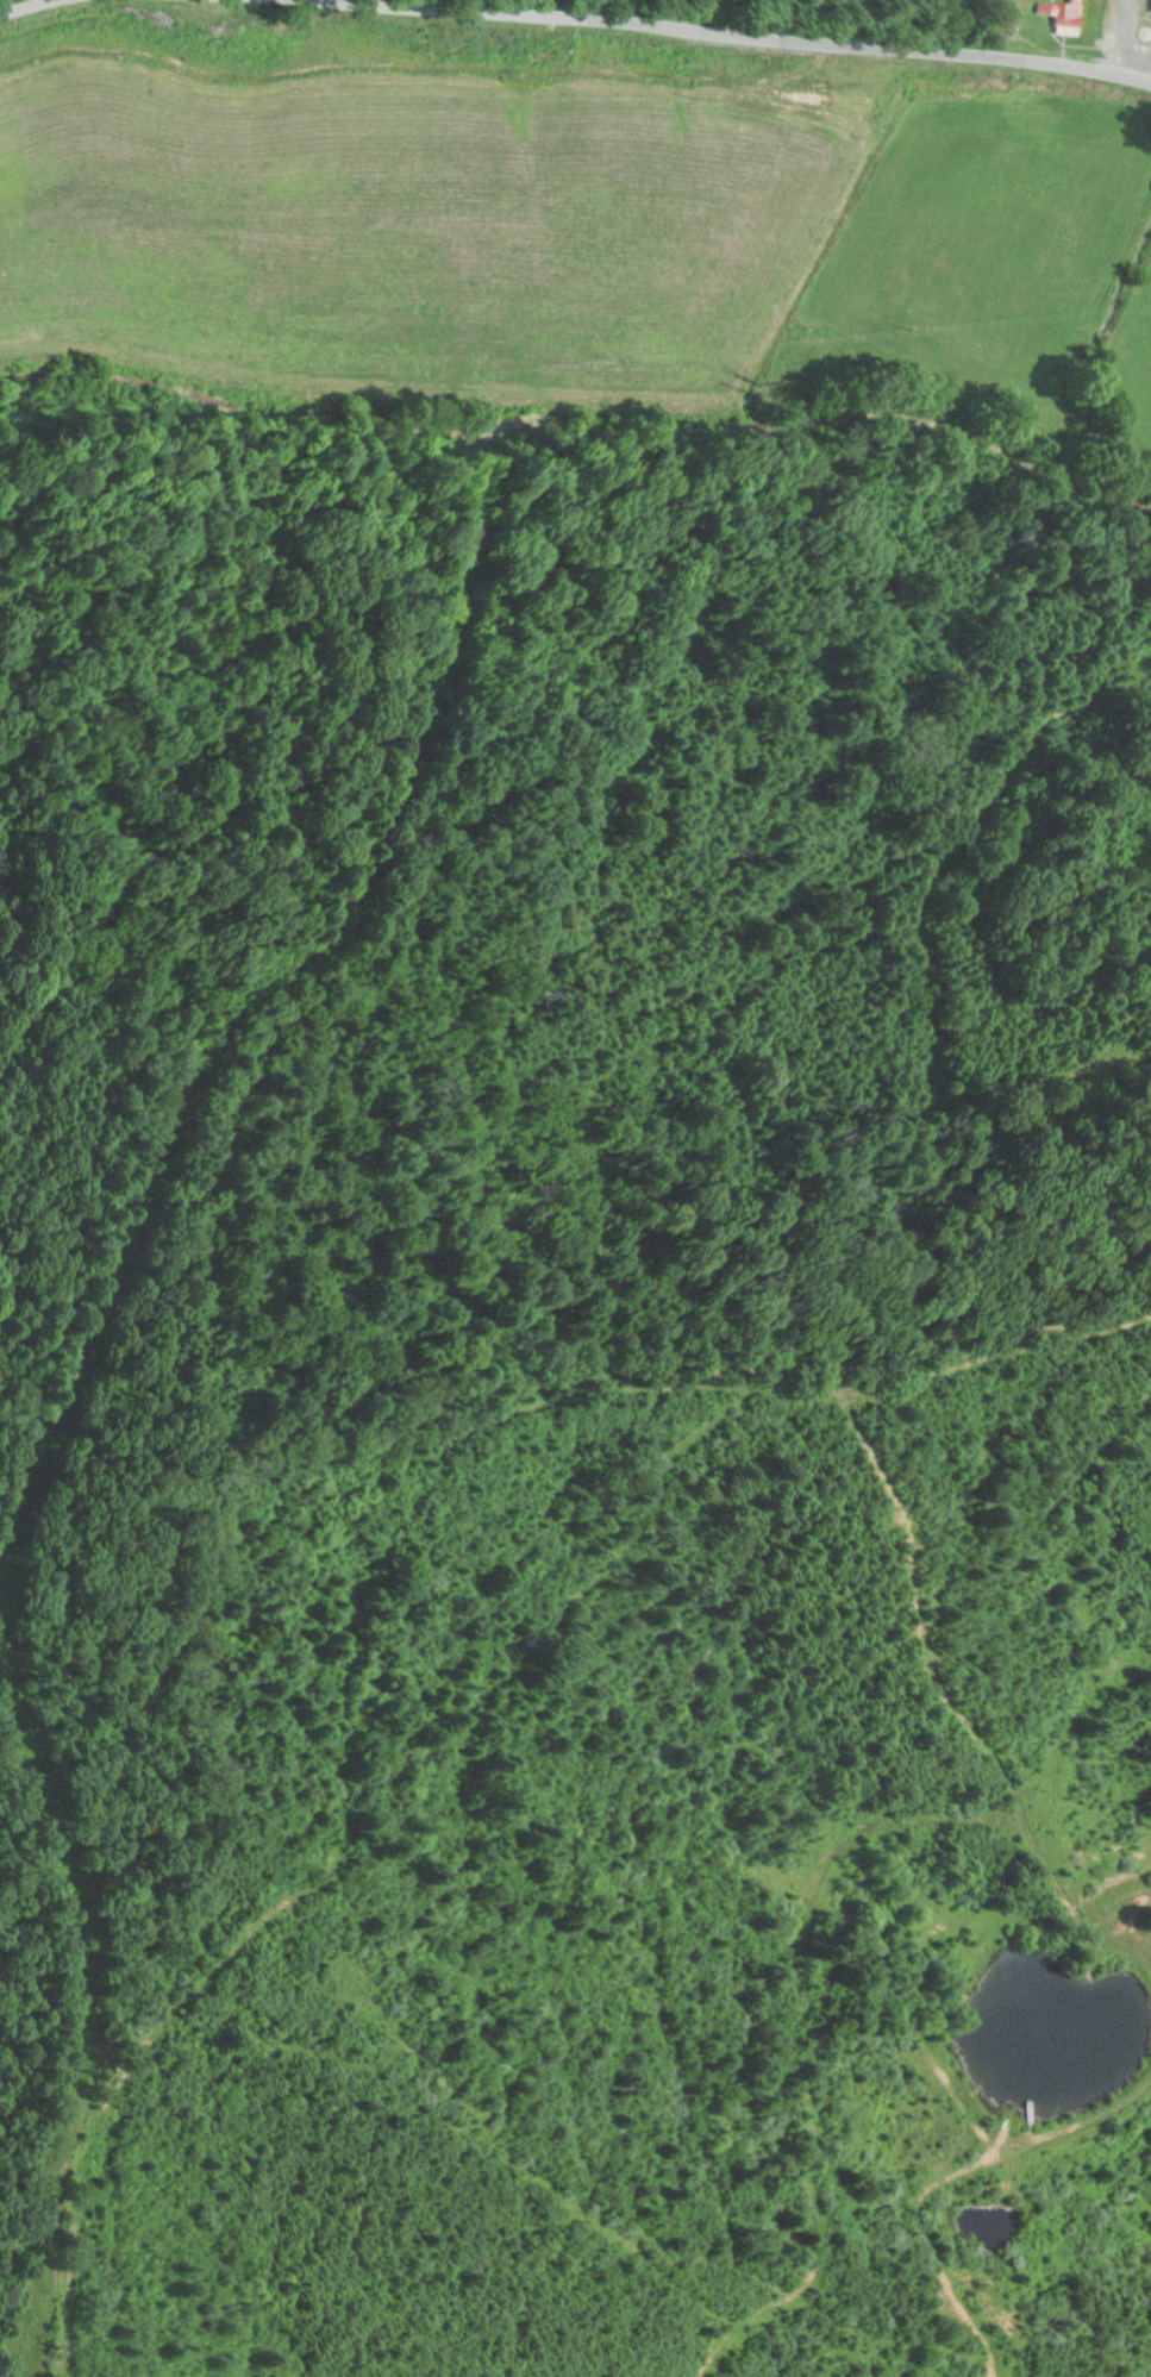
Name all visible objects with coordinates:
road: (30, 7)
building: (1062, 15)
road: (734, 37)

